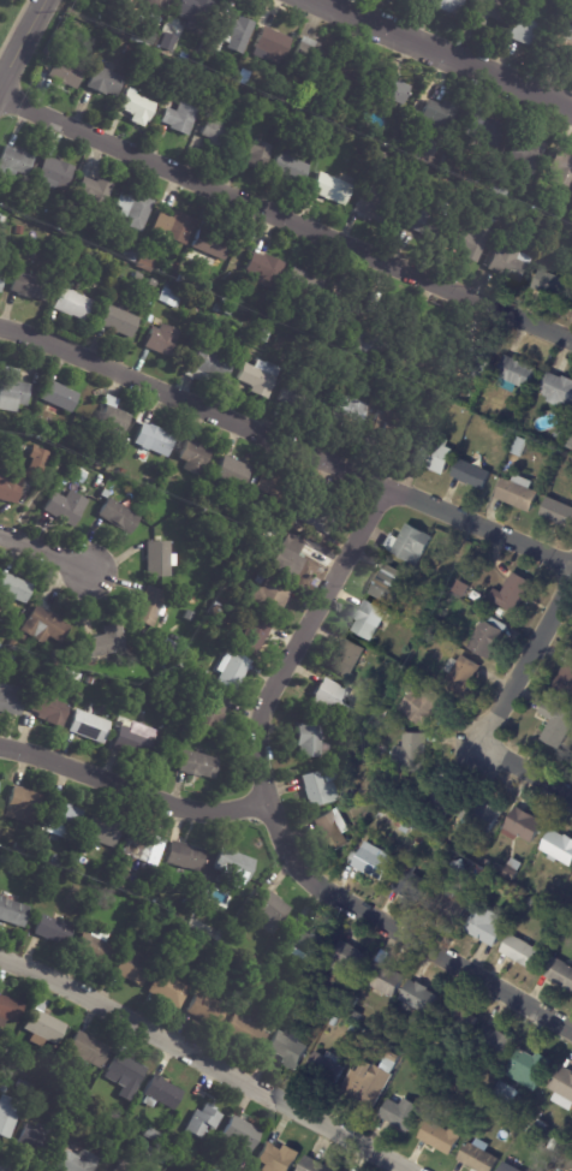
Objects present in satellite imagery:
building: (155, 5)
building: (449, 5)
building: (489, 10)
building: (193, 14)
park: (8, 17)
building: (475, 26)
building: (234, 32)
building: (530, 32)
building: (565, 35)
building: (142, 37)
road: (20, 40)
building: (167, 42)
building: (272, 46)
building: (211, 47)
building: (129, 52)
building: (144, 55)
road: (439, 55)
building: (312, 59)
building: (204, 60)
building: (62, 65)
building: (350, 72)
building: (105, 82)
building: (220, 87)
building: (391, 90)
building: (290, 100)
building: (137, 108)
building: (345, 108)
building: (436, 117)
building: (179, 118)
building: (482, 130)
building: (219, 133)
building: (257, 151)
building: (525, 155)
building: (383, 159)
building: (14, 162)
building: (291, 168)
building: (562, 168)
building: (54, 174)
building: (336, 186)
building: (499, 190)
building: (93, 195)
building: (370, 208)
building: (135, 209)
building: (493, 209)
building: (558, 216)
road: (286, 219)
building: (2, 220)
building: (425, 222)
building: (177, 226)
building: (64, 228)
building: (20, 230)
building: (211, 242)
building: (471, 243)
building: (131, 255)
building: (145, 262)
building: (511, 262)
building: (174, 267)
building: (266, 271)
building: (568, 271)
building: (138, 277)
building: (1, 280)
building: (186, 281)
building: (154, 283)
building: (304, 285)
building: (30, 286)
building: (553, 286)
building: (168, 297)
building: (73, 304)
building: (224, 309)
building: (340, 319)
building: (270, 321)
building: (119, 322)
building: (246, 332)
building: (266, 335)
building: (162, 340)
building: (368, 346)
building: (479, 356)
building: (413, 357)
building: (209, 363)
building: (516, 374)
building: (260, 378)
building: (558, 390)
building: (12, 391)
building: (59, 397)
building: (299, 397)
building: (348, 411)
building: (114, 420)
building: (559, 432)
building: (381, 436)
building: (154, 440)
building: (571, 441)
building: (6, 444)
building: (55, 446)
building: (520, 447)
road: (286, 450)
building: (107, 452)
building: (436, 456)
building: (40, 457)
building: (89, 458)
building: (195, 458)
building: (100, 463)
building: (121, 472)
building: (233, 474)
building: (472, 475)
building: (10, 486)
building: (272, 489)
building: (519, 493)
building: (105, 494)
building: (66, 509)
building: (314, 512)
building: (216, 513)
building: (559, 513)
building: (119, 517)
building: (197, 522)
building: (409, 543)
road: (46, 551)
building: (288, 558)
building: (160, 560)
building: (246, 566)
building: (388, 584)
building: (461, 588)
building: (13, 590)
building: (513, 592)
building: (269, 596)
building: (150, 607)
building: (215, 612)
building: (501, 612)
building: (189, 616)
building: (369, 619)
building: (2, 626)
building: (440, 626)
building: (43, 628)
building: (255, 636)
building: (489, 636)
road: (300, 640)
building: (107, 642)
building: (14, 647)
building: (347, 658)
building: (12, 659)
road: (523, 662)
building: (394, 668)
building: (233, 673)
building: (463, 673)
building: (566, 674)
building: (73, 676)
building: (91, 682)
building: (137, 695)
building: (333, 699)
building: (12, 700)
building: (422, 703)
building: (50, 705)
building: (213, 712)
building: (385, 712)
building: (398, 715)
building: (556, 725)
building: (89, 727)
building: (375, 729)
building: (373, 738)
building: (310, 739)
building: (136, 741)
building: (412, 753)
building: (199, 766)
building: (329, 773)
road: (523, 773)
building: (317, 789)
road: (131, 791)
building: (440, 796)
building: (23, 804)
building: (482, 814)
building: (62, 820)
building: (400, 822)
building: (523, 825)
building: (103, 830)
building: (333, 830)
building: (418, 839)
building: (559, 846)
building: (143, 848)
building: (19, 850)
building: (185, 856)
building: (7, 860)
building: (56, 860)
building: (374, 861)
building: (18, 863)
building: (233, 864)
building: (514, 869)
building: (483, 870)
building: (118, 876)
building: (56, 879)
building: (411, 882)
building: (83, 894)
building: (125, 899)
building: (136, 904)
building: (443, 905)
building: (270, 910)
building: (13, 911)
building: (487, 925)
building: (54, 928)
road: (400, 932)
building: (304, 943)
building: (95, 946)
building: (523, 950)
building: (254, 958)
building: (347, 959)
building: (133, 968)
building: (559, 971)
building: (385, 976)
building: (302, 979)
building: (169, 989)
building: (417, 999)
building: (353, 1000)
building: (11, 1009)
building: (209, 1010)
building: (322, 1012)
building: (354, 1014)
building: (333, 1021)
building: (455, 1022)
building: (43, 1026)
building: (351, 1029)
building: (246, 1033)
building: (495, 1042)
building: (288, 1047)
building: (87, 1051)
road: (202, 1062)
building: (531, 1066)
building: (24, 1069)
building: (323, 1069)
building: (11, 1072)
building: (125, 1075)
building: (369, 1082)
building: (562, 1088)
building: (5, 1089)
building: (161, 1093)
building: (505, 1093)
building: (44, 1096)
building: (82, 1098)
building: (490, 1108)
building: (400, 1112)
building: (8, 1114)
building: (201, 1114)
building: (113, 1116)
building: (542, 1124)
building: (151, 1135)
building: (240, 1135)
building: (442, 1136)
building: (36, 1141)
building: (554, 1145)
building: (169, 1146)
building: (149, 1152)
building: (478, 1157)
building: (278, 1158)
building: (77, 1161)
building: (312, 1165)
building: (508, 1167)
building: (102, 1170)
building: (118, 1170)
building: (238, 1170)

